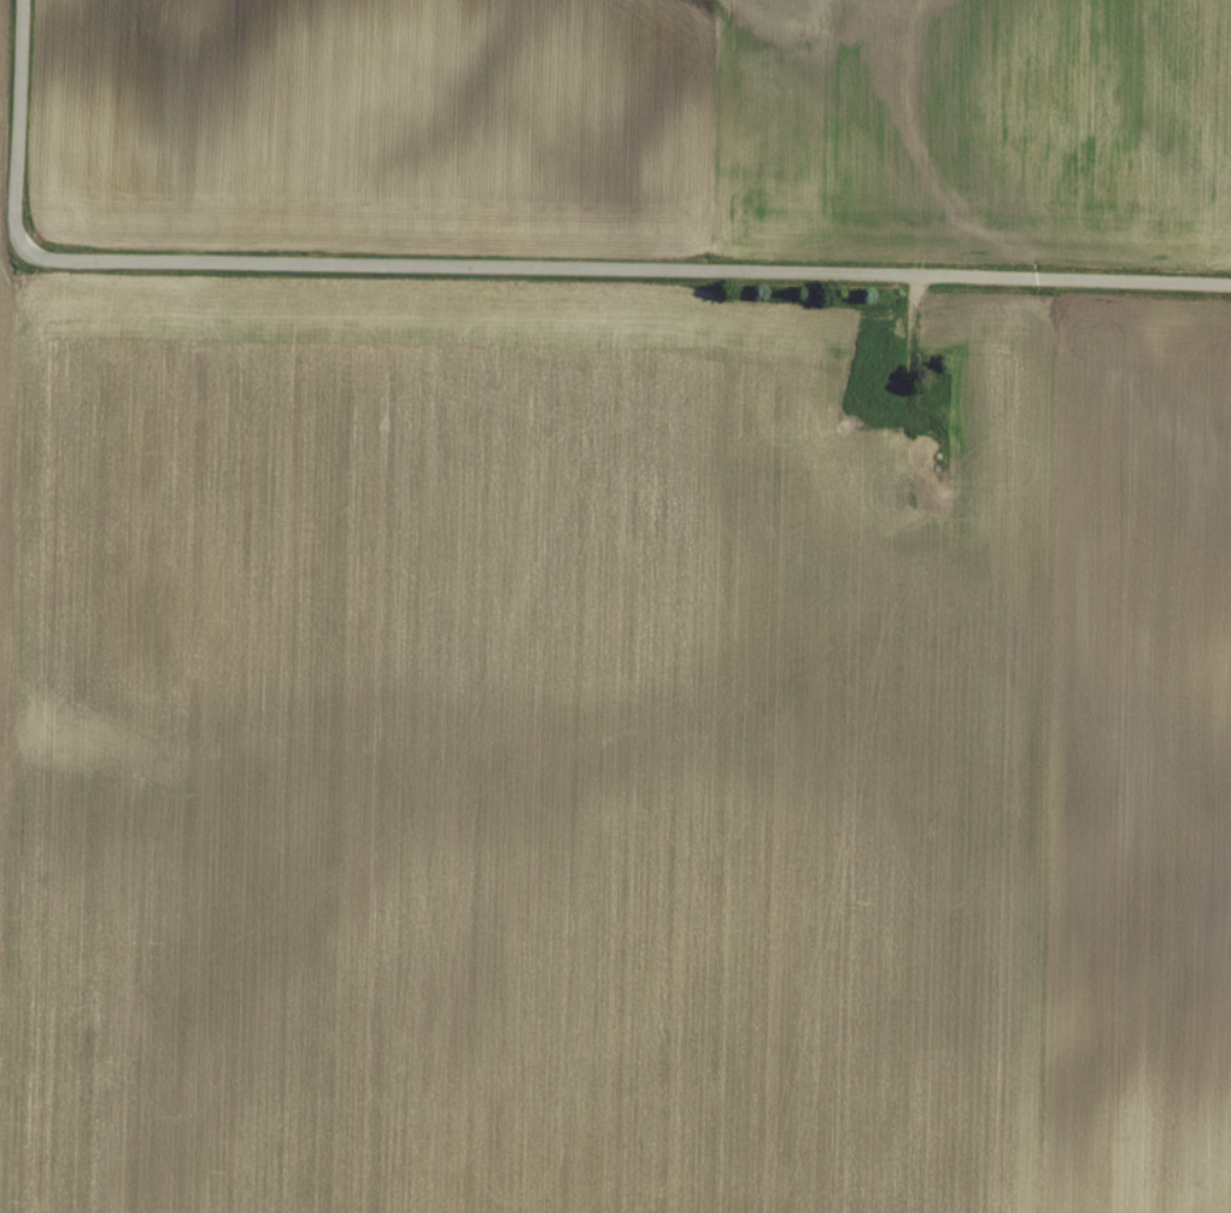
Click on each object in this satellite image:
road: (499, 266)

